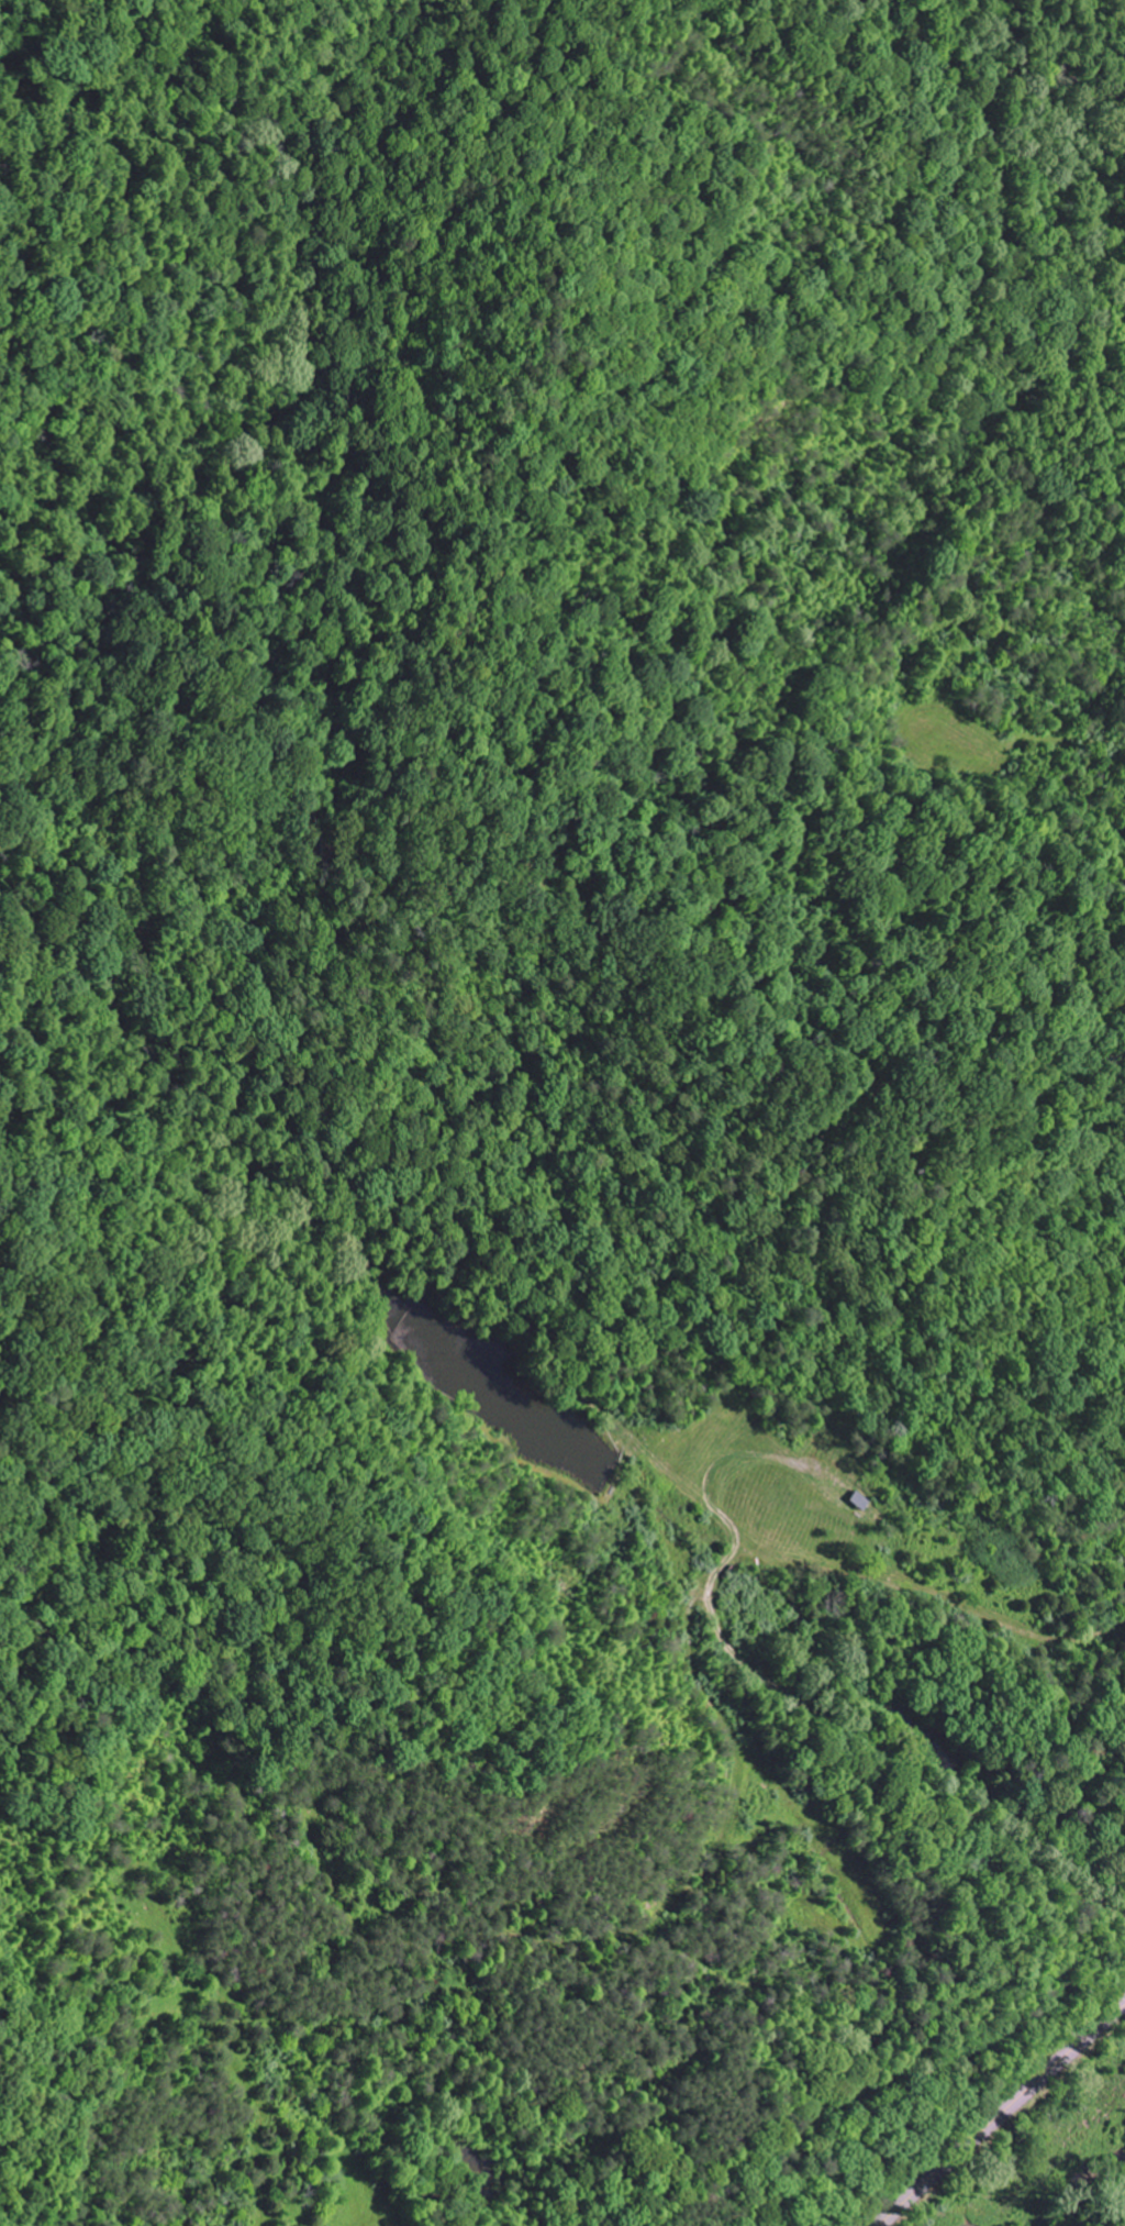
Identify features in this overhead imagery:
road: (1002, 2115)

